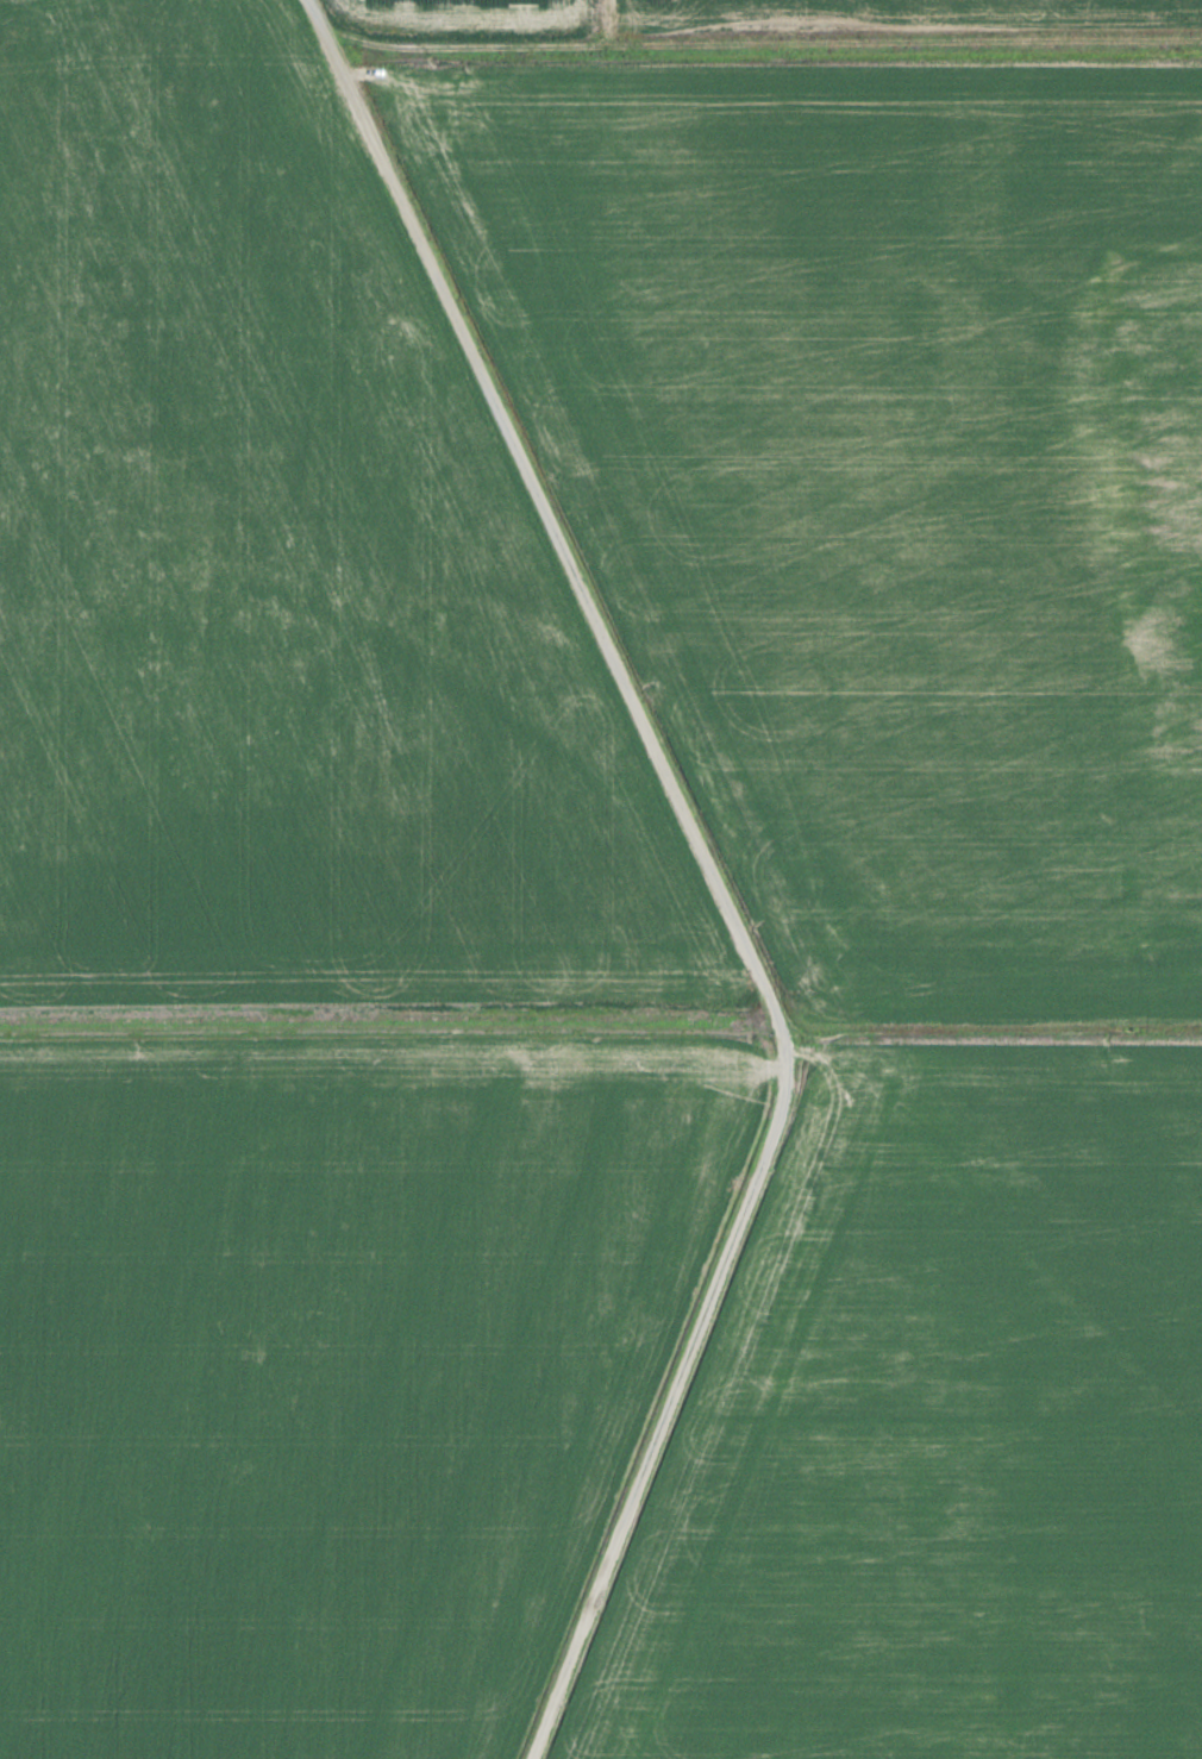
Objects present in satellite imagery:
road: (713, 866)

